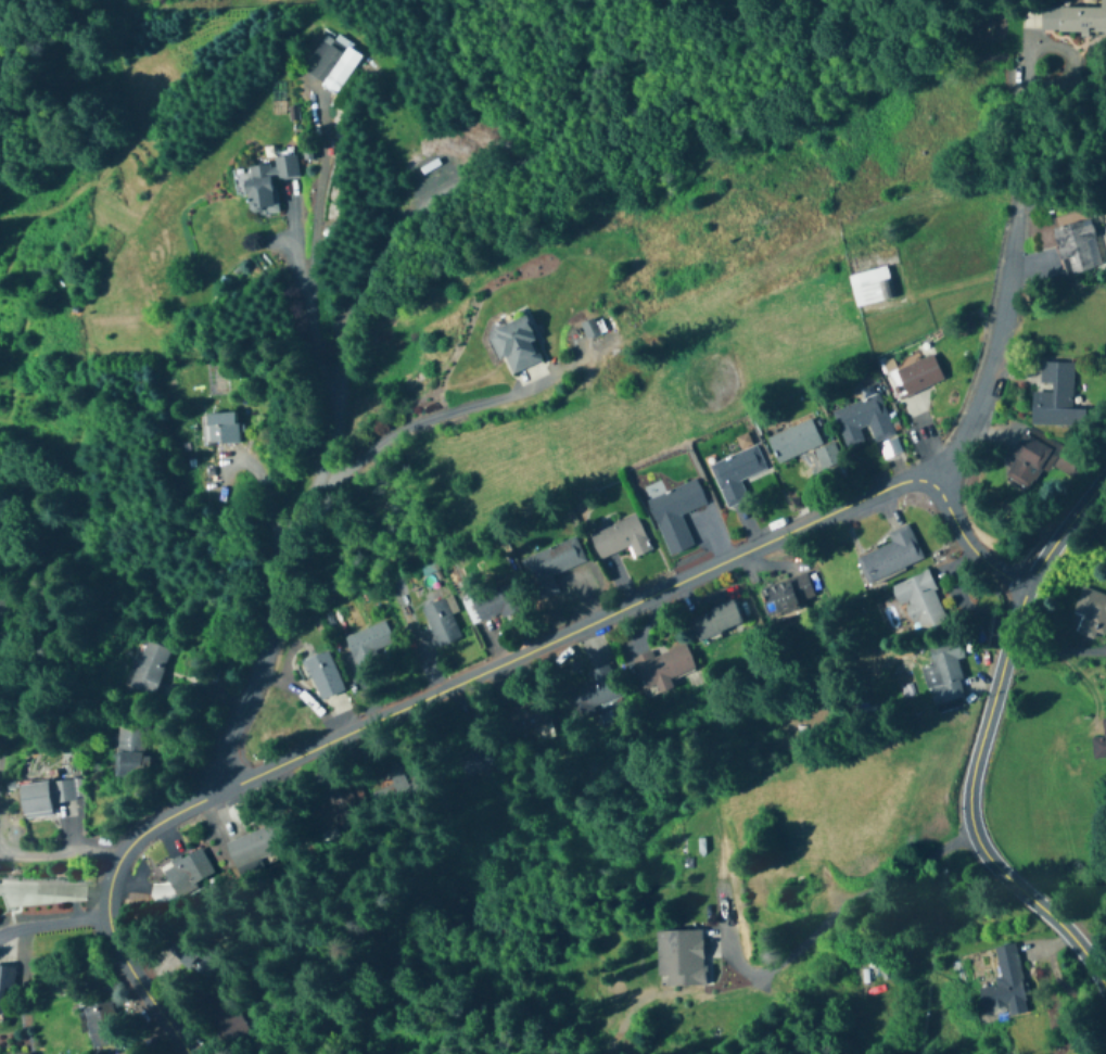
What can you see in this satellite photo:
building: (1075, 17)
building: (329, 65)
road: (1025, 116)
building: (266, 183)
road: (323, 189)
building: (1077, 247)
building: (870, 287)
road: (307, 309)
building: (516, 345)
road: (341, 351)
road: (996, 357)
building: (915, 376)
building: (1056, 397)
road: (418, 417)
building: (863, 420)
building: (221, 428)
building: (793, 440)
building: (827, 456)
building: (1026, 460)
building: (736, 473)
building: (675, 513)
building: (621, 538)
road: (970, 542)
building: (890, 554)
building: (551, 563)
building: (786, 595)
building: (919, 601)
building: (496, 602)
building: (2, 606)
building: (1091, 613)
building: (714, 621)
building: (440, 623)
building: (370, 645)
road: (1066, 658)
building: (150, 669)
building: (661, 669)
building: (943, 673)
building: (323, 676)
building: (594, 689)
road: (418, 700)
building: (523, 718)
building: (1099, 744)
road: (982, 746)
building: (131, 752)
building: (476, 757)
building: (45, 797)
building: (344, 803)
building: (252, 848)
road: (62, 851)
building: (188, 873)
road: (54, 886)
road: (54, 927)
road: (788, 957)
building: (679, 958)
building: (1004, 981)
building: (5, 982)
building: (227, 1020)
building: (102, 1026)

